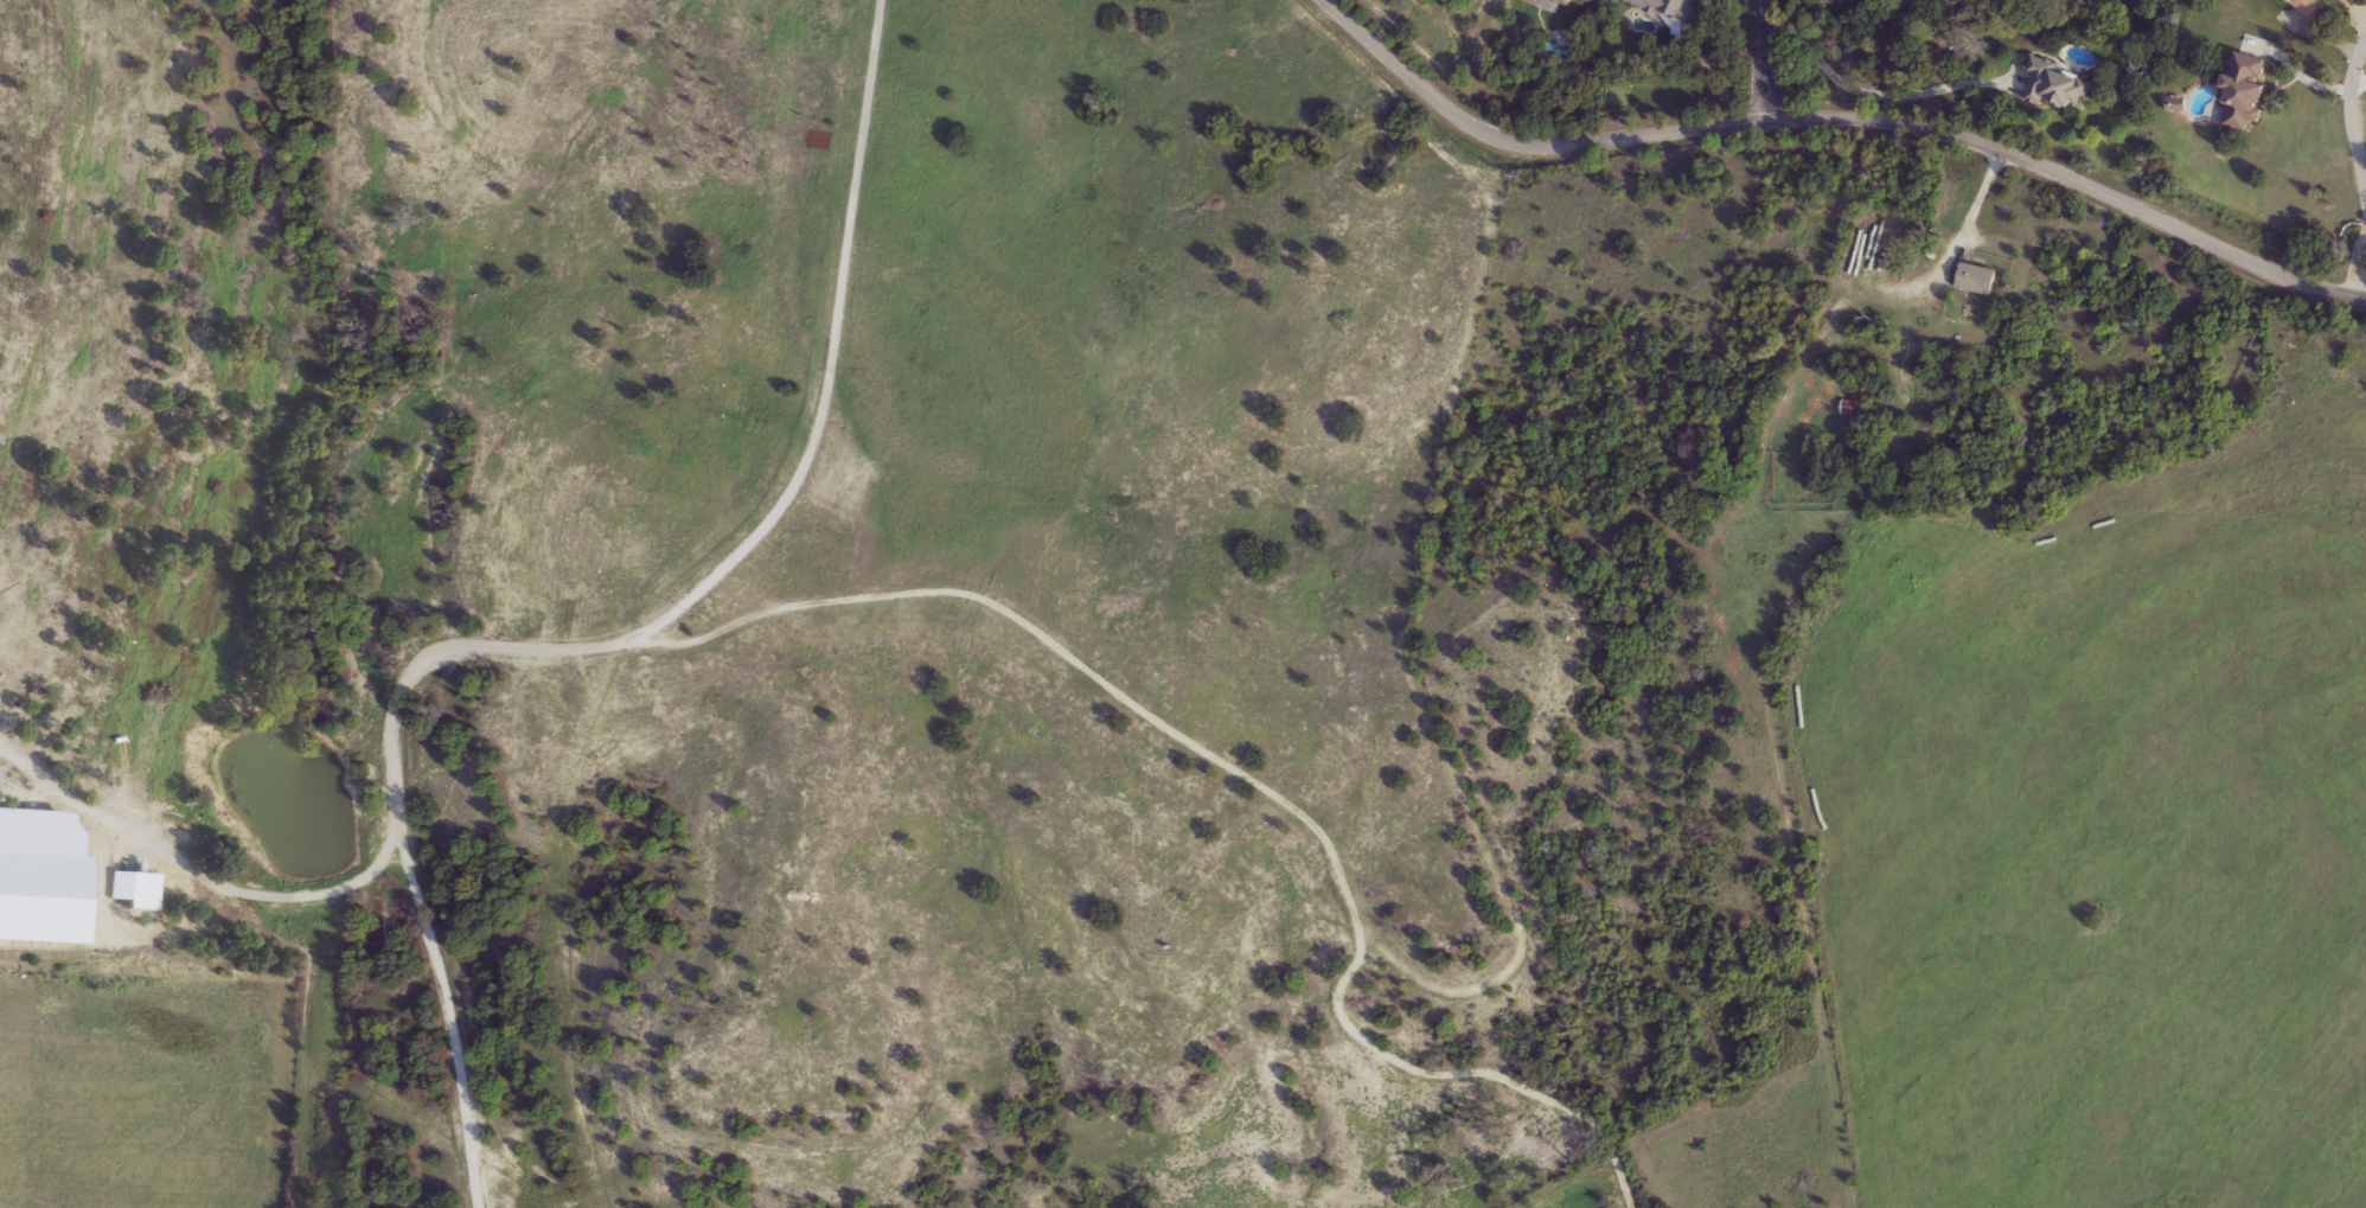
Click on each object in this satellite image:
building: (1550, 4)
building: (2308, 12)
road: (1769, 59)
road: (2304, 79)
building: (2057, 87)
road: (1871, 91)
building: (2245, 92)
road: (2357, 110)
road: (1834, 120)
road: (1955, 250)
building: (1977, 280)
building: (1860, 404)
road: (605, 646)
road: (198, 875)

